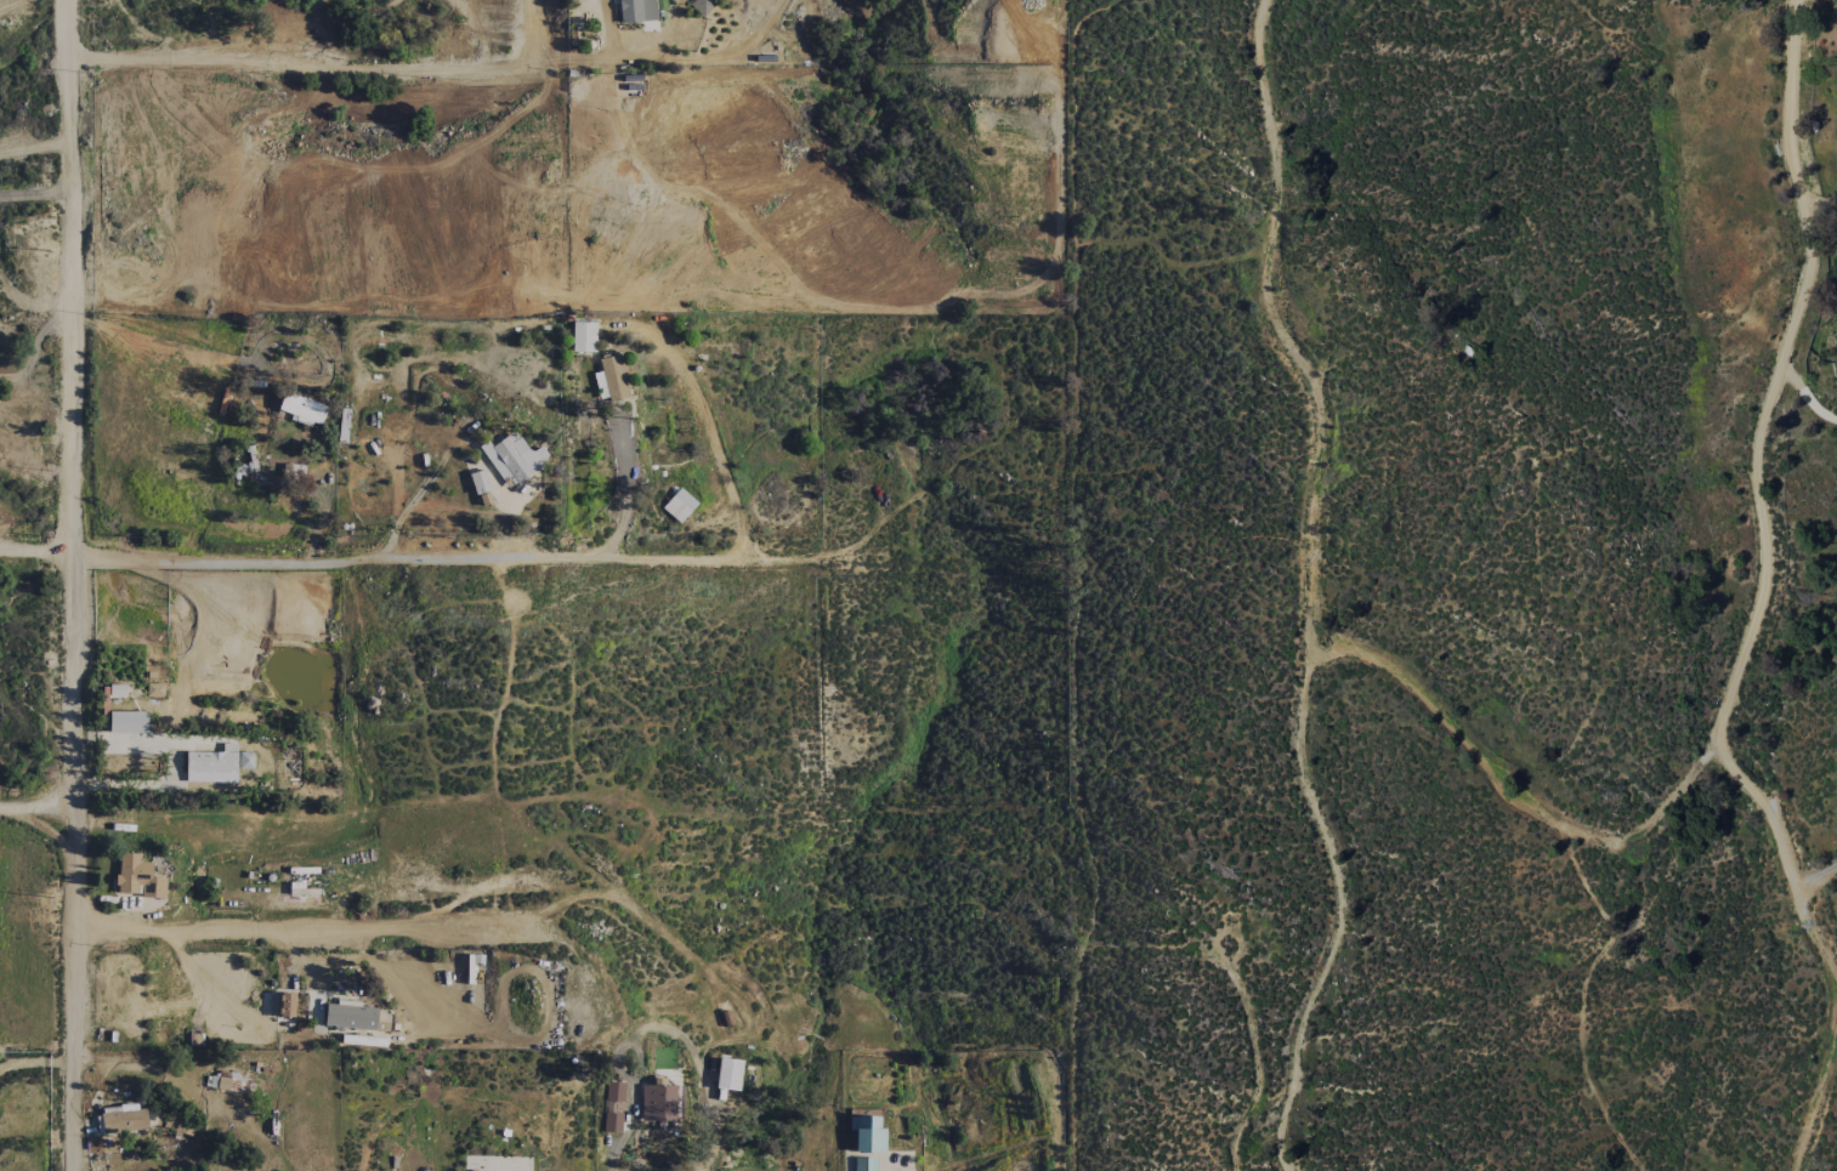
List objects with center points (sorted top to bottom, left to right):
building: (701, 6)
building: (636, 11)
road: (441, 67)
road: (34, 147)
road: (34, 195)
building: (583, 336)
road: (142, 340)
road: (36, 347)
road: (1775, 370)
building: (613, 379)
building: (302, 410)
building: (514, 457)
building: (248, 461)
road: (624, 496)
building: (679, 505)
road: (33, 552)
road: (433, 559)
road: (67, 585)
road: (1311, 585)
building: (126, 722)
building: (245, 761)
building: (212, 766)
road: (1520, 780)
road: (35, 805)
road: (1781, 854)
road: (1814, 871)
building: (137, 877)
road: (294, 914)
building: (285, 1005)
building: (348, 1016)
building: (727, 1074)
building: (229, 1084)
road: (1816, 1092)
building: (657, 1102)
building: (612, 1107)
building: (123, 1118)
building: (866, 1133)
building: (864, 1164)

